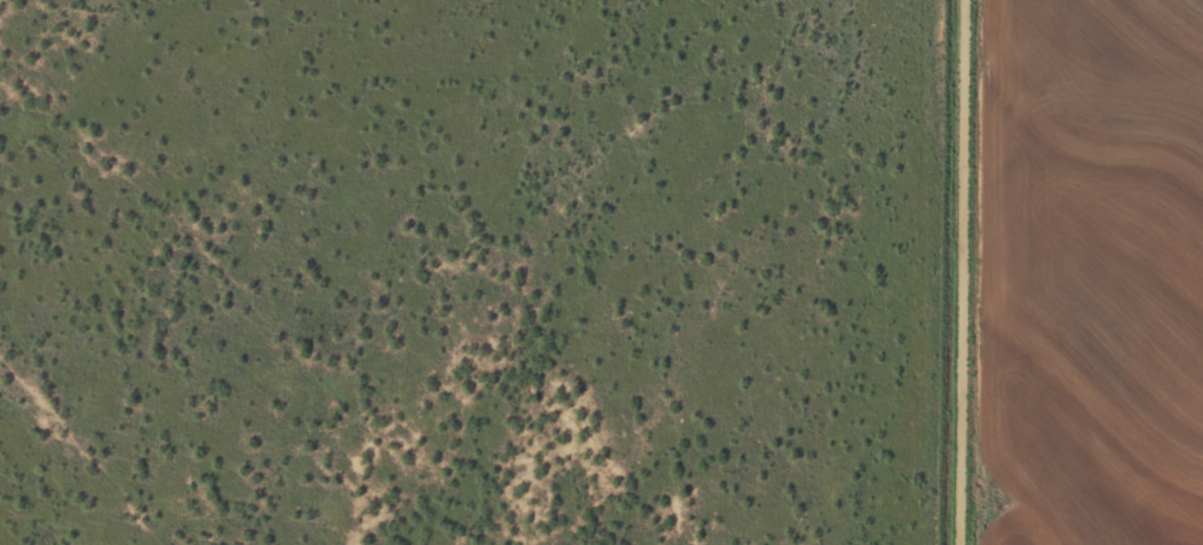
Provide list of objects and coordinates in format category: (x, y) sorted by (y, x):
road: (965, 272)

